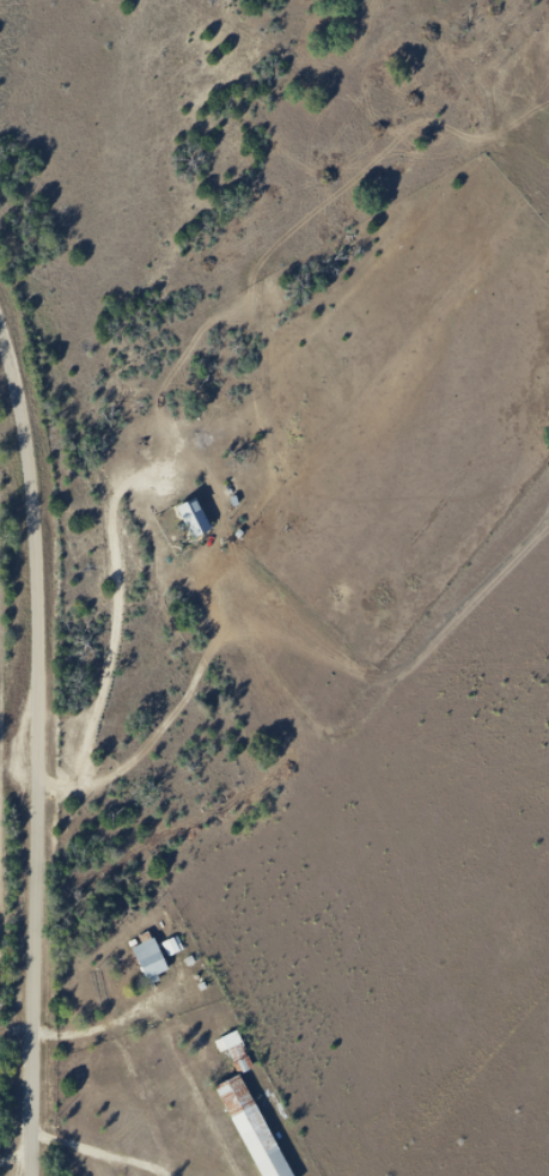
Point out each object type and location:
building: (203, 528)
road: (44, 739)
building: (158, 964)
building: (228, 1042)
building: (257, 1132)

